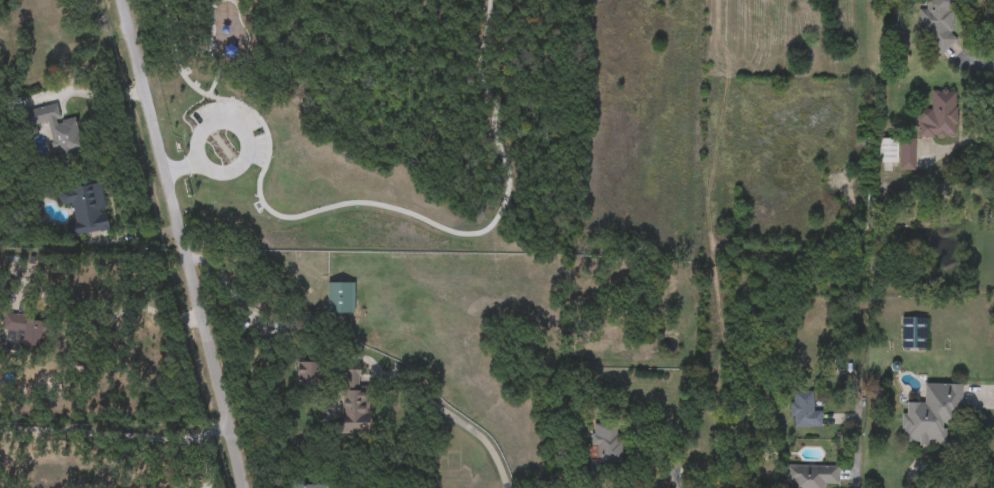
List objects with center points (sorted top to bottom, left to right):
building: (47, 22)
building: (936, 22)
road: (88, 92)
building: (939, 116)
park: (367, 119)
road: (238, 129)
building: (57, 131)
building: (888, 151)
building: (906, 164)
road: (183, 168)
building: (85, 208)
road: (134, 238)
road: (183, 243)
building: (340, 298)
road: (139, 310)
building: (28, 333)
building: (914, 333)
road: (343, 358)
building: (354, 398)
building: (804, 410)
building: (931, 415)
road: (859, 430)
road: (113, 432)
building: (606, 449)
road: (660, 455)
building: (810, 476)
building: (309, 487)

